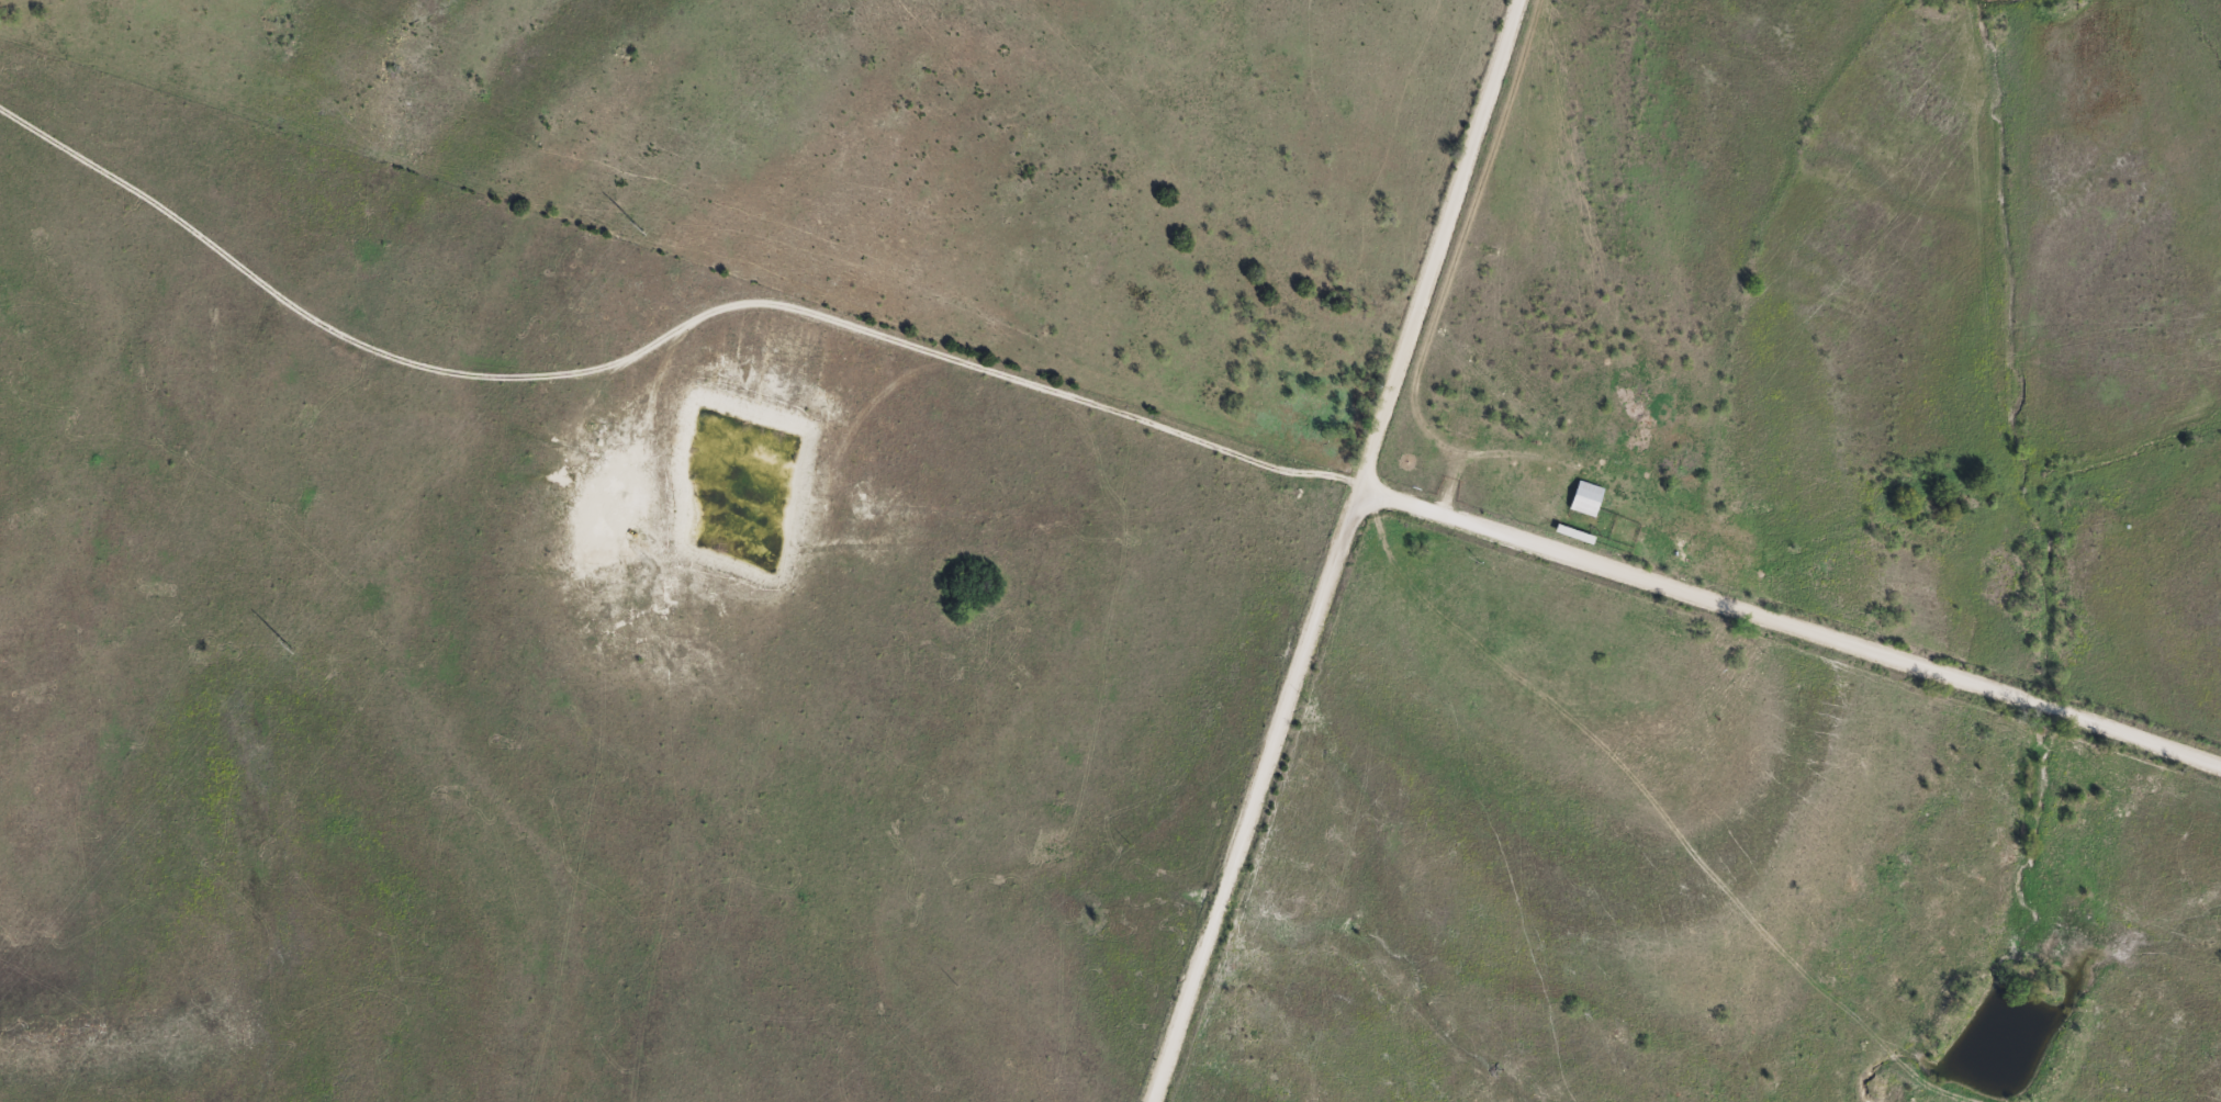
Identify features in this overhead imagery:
power tower: (638, 226)
building: (1588, 501)
road: (1332, 551)
road: (1787, 629)
power tower: (288, 643)

